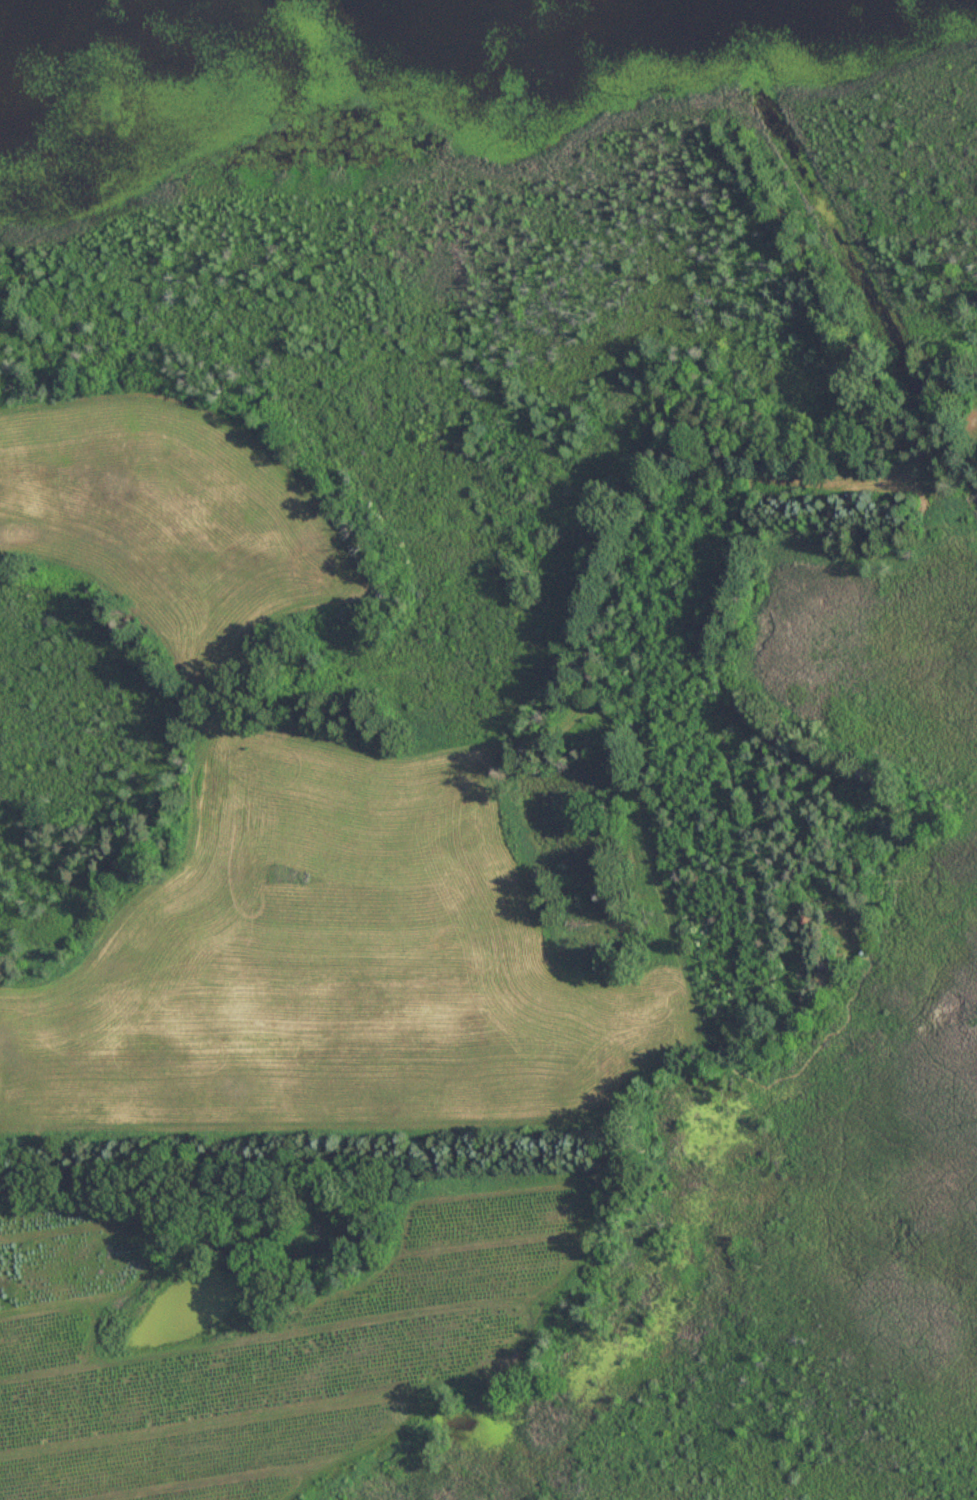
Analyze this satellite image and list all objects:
crop: (176, 516)
crop: (355, 968)
crop: (273, 1350)

